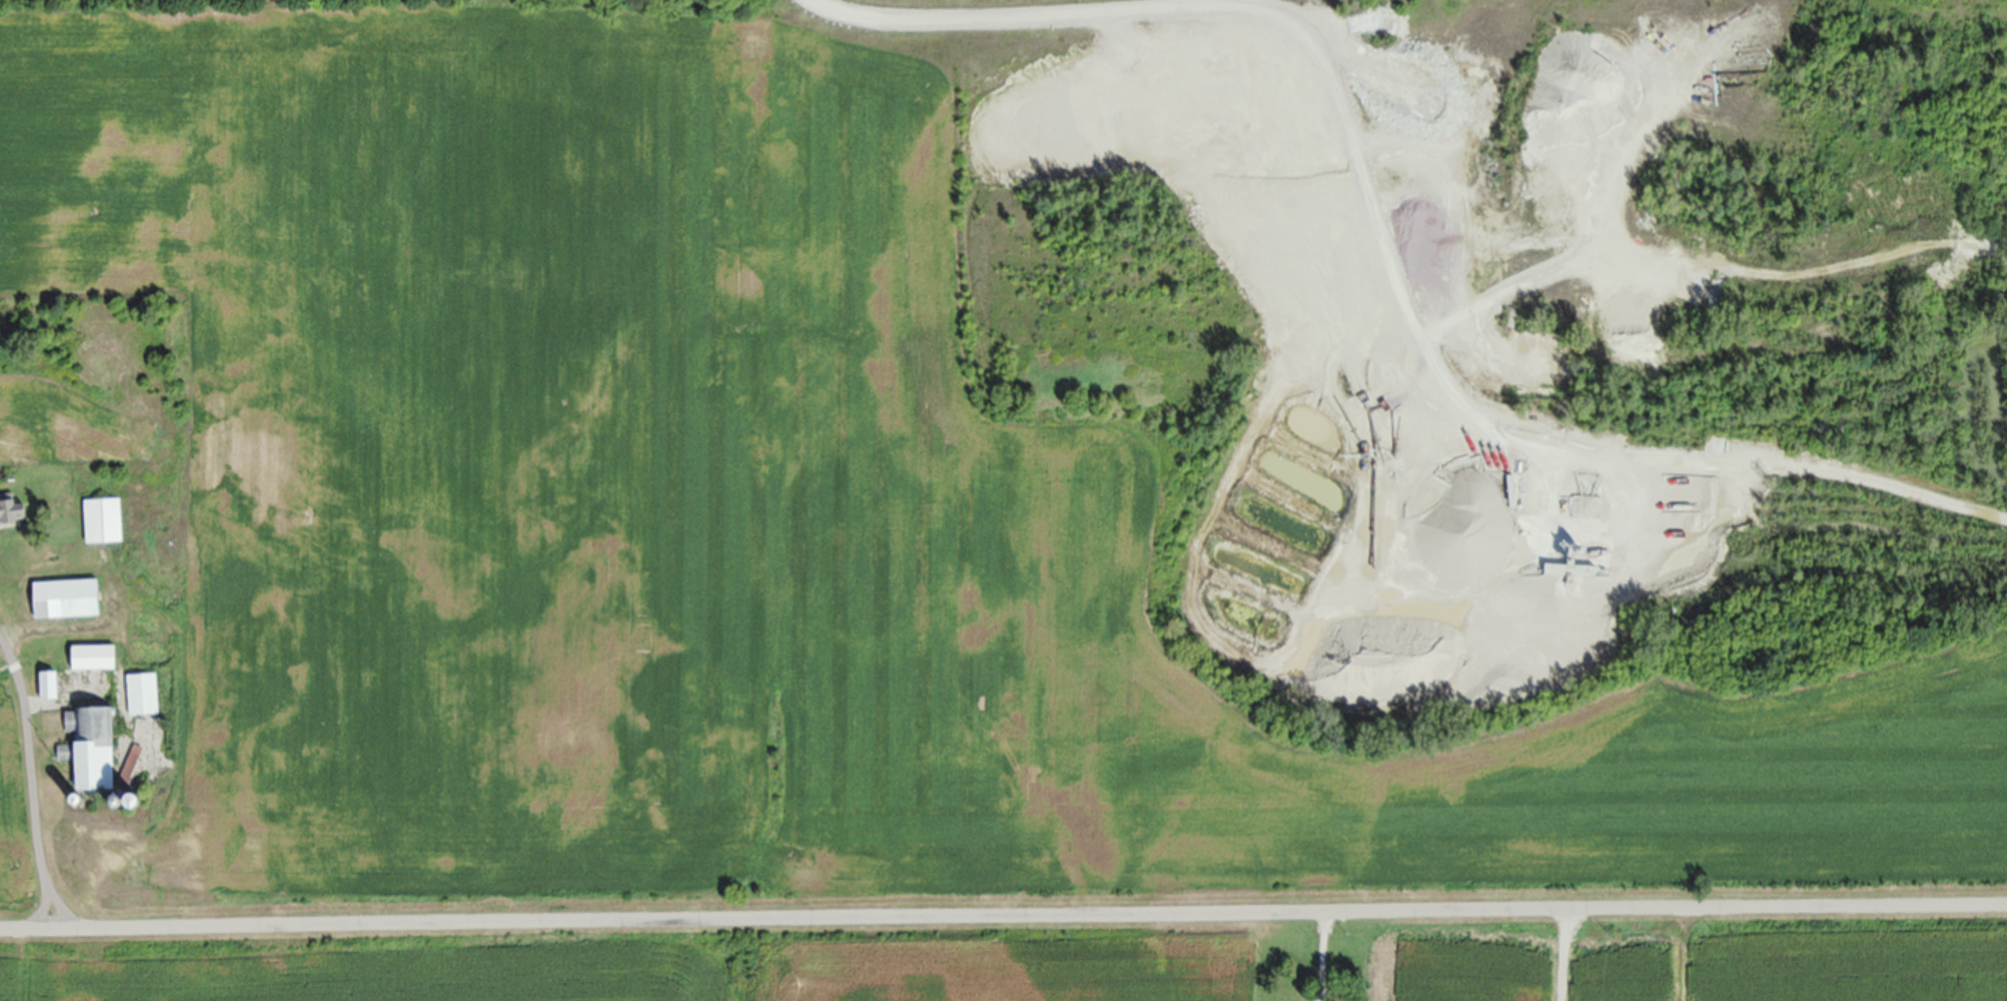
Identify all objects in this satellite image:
road: (1086, 15)
quarry: (1500, 326)
building: (9, 515)
building: (100, 526)
building: (63, 604)
building: (90, 662)
building: (46, 690)
building: (140, 699)
building: (88, 753)
road: (30, 762)
road: (50, 891)
road: (1003, 916)

